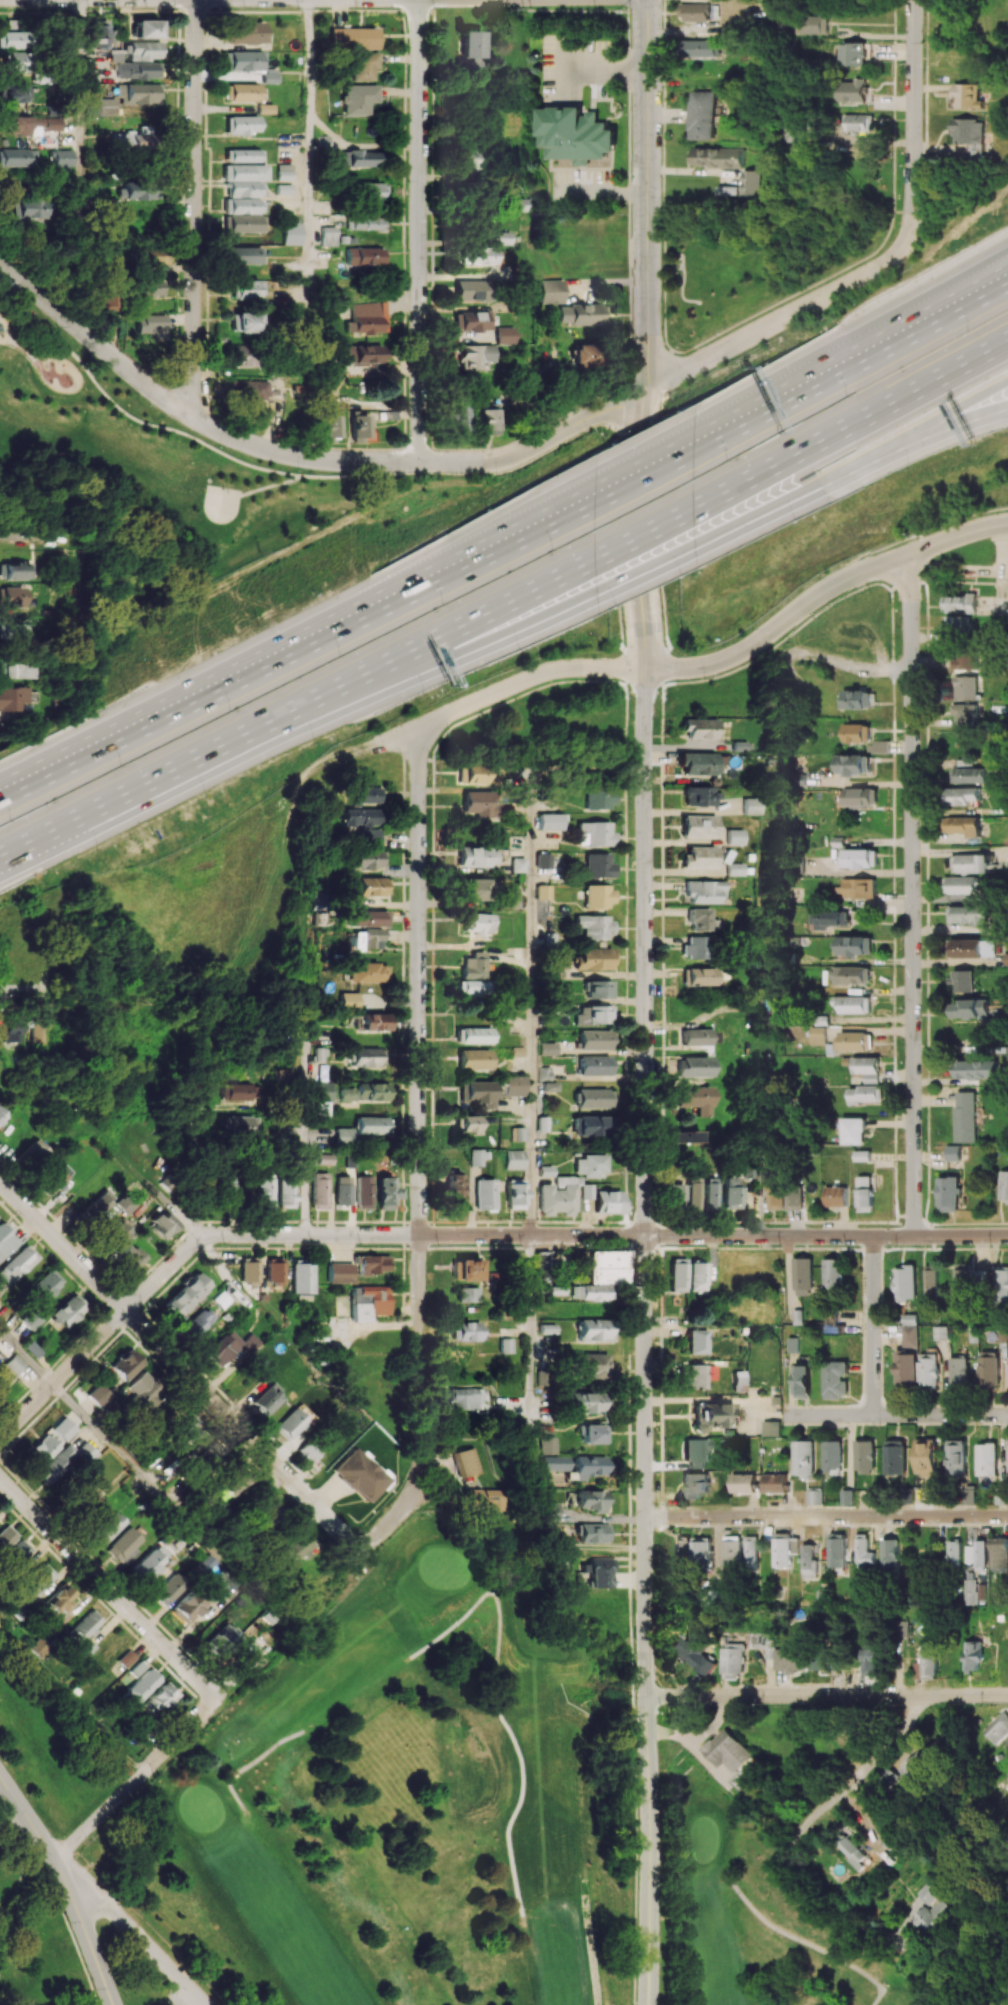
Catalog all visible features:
building: (694, 11)
building: (812, 24)
building: (147, 28)
building: (245, 32)
building: (98, 34)
building: (354, 38)
building: (10, 39)
building: (700, 48)
building: (142, 51)
building: (471, 51)
building: (854, 53)
road: (308, 58)
building: (242, 60)
building: (14, 61)
building: (364, 66)
building: (136, 71)
building: (108, 76)
building: (853, 90)
building: (14, 92)
building: (244, 92)
building: (138, 94)
building: (966, 96)
building: (360, 98)
road: (893, 103)
building: (106, 106)
street lamp: (624, 107)
building: (264, 108)
building: (701, 115)
road: (80, 117)
building: (857, 122)
road: (913, 123)
building: (28, 124)
building: (241, 125)
building: (968, 130)
building: (574, 134)
building: (132, 139)
road: (360, 146)
building: (244, 155)
building: (18, 157)
building: (716, 157)
building: (365, 158)
building: (464, 159)
building: (60, 160)
street lamp: (900, 162)
building: (284, 171)
building: (244, 172)
building: (748, 182)
building: (243, 189)
building: (140, 191)
building: (368, 191)
road: (646, 193)
building: (514, 205)
building: (242, 206)
road: (195, 208)
building: (29, 209)
street lamp: (625, 213)
road: (308, 216)
building: (243, 223)
building: (362, 223)
road: (420, 230)
building: (327, 236)
building: (501, 238)
street lamp: (967, 242)
road: (663, 245)
building: (244, 255)
building: (149, 256)
building: (363, 256)
building: (475, 256)
road: (836, 272)
park: (739, 273)
street lamp: (811, 279)
building: (151, 287)
building: (248, 289)
building: (470, 290)
building: (552, 291)
street lamp: (868, 297)
road: (18, 298)
building: (108, 301)
street lamp: (32, 304)
building: (581, 314)
building: (368, 317)
road: (778, 320)
building: (470, 321)
building: (244, 322)
road: (40, 325)
building: (152, 325)
street lamp: (723, 325)
street lamp: (966, 331)
building: (502, 334)
road: (853, 348)
road: (22, 349)
building: (364, 354)
building: (242, 355)
building: (583, 355)
building: (472, 356)
street lamp: (97, 359)
street lamp: (765, 360)
road: (852, 363)
street lamp: (624, 365)
building: (249, 389)
street lamp: (847, 395)
street lamp: (150, 405)
street lamp: (677, 411)
building: (458, 418)
building: (488, 421)
road: (851, 422)
road: (161, 427)
building: (331, 427)
building: (359, 427)
road: (914, 430)
street lamp: (591, 433)
street lamp: (623, 436)
road: (912, 441)
street lamp: (613, 444)
street lamp: (221, 446)
road: (300, 455)
street lamp: (727, 460)
street lamp: (909, 468)
street lamp: (297, 469)
road: (644, 470)
road: (467, 474)
street lamp: (499, 475)
park: (134, 482)
road: (271, 486)
park: (221, 503)
street lamp: (487, 509)
road: (764, 510)
street lamp: (792, 521)
road: (647, 528)
road: (644, 531)
street lamp: (915, 537)
road: (489, 549)
street lamp: (553, 550)
road: (651, 565)
street lamp: (366, 570)
building: (14, 571)
road: (76, 571)
street lamp: (677, 576)
street lamp: (819, 576)
road: (825, 592)
building: (11, 596)
street lamp: (887, 601)
building: (958, 603)
street lamp: (442, 605)
street lamp: (611, 607)
street lamp: (258, 627)
building: (956, 627)
street lamp: (752, 628)
building: (12, 630)
street lamp: (516, 650)
street lamp: (587, 655)
street lamp: (340, 656)
building: (965, 658)
building: (15, 668)
road: (851, 668)
street lamp: (705, 677)
road: (231, 683)
road: (324, 685)
building: (965, 687)
street lamp: (477, 688)
street lamp: (124, 692)
road: (497, 692)
street lamp: (424, 695)
building: (12, 697)
building: (855, 699)
street lamp: (230, 711)
road: (328, 714)
building: (965, 714)
building: (699, 728)
building: (856, 732)
street lamp: (374, 733)
street lamp: (313, 742)
street lamp: (19, 746)
street lamp: (429, 755)
building: (701, 763)
building: (853, 764)
street lamp: (120, 766)
building: (472, 773)
building: (970, 773)
road: (39, 778)
street lamp: (634, 779)
road: (39, 783)
building: (366, 795)
building: (963, 795)
street lamp: (204, 796)
building: (700, 796)
building: (860, 796)
building: (599, 797)
building: (478, 803)
building: (750, 806)
building: (361, 817)
street lamp: (10, 821)
building: (551, 821)
building: (962, 825)
building: (699, 826)
building: (595, 834)
road: (28, 836)
building: (734, 836)
building: (370, 838)
street lamp: (97, 850)
building: (476, 856)
building: (699, 857)
building: (858, 858)
building: (368, 859)
building: (543, 860)
building: (970, 863)
building: (517, 864)
building: (598, 866)
building: (733, 869)
building: (961, 884)
building: (372, 886)
building: (856, 887)
building: (474, 889)
building: (704, 891)
road: (912, 891)
building: (543, 892)
building: (597, 895)
building: (509, 899)
building: (969, 914)
building: (368, 918)
building: (827, 918)
building: (701, 920)
building: (476, 923)
building: (594, 926)
building: (364, 939)
road: (532, 944)
building: (854, 945)
building: (695, 947)
building: (974, 947)
building: (593, 958)
building: (1007, 958)
building: (472, 966)
building: (368, 972)
building: (851, 974)
building: (702, 976)
building: (964, 980)
building: (472, 987)
building: (598, 989)
road: (5, 990)
building: (349, 1000)
building: (852, 1004)
building: (974, 1008)
building: (594, 1015)
building: (373, 1021)
building: (12, 1029)
building: (471, 1035)
building: (698, 1036)
building: (817, 1036)
building: (595, 1039)
building: (852, 1041)
building: (548, 1048)
building: (320, 1054)
building: (368, 1057)
building: (472, 1059)
building: (594, 1065)
building: (694, 1067)
building: (866, 1067)
building: (978, 1069)
building: (545, 1073)
building: (284, 1074)
building: (513, 1085)
building: (549, 1086)
building: (242, 1091)
building: (371, 1091)
building: (347, 1093)
building: (476, 1093)
building: (864, 1094)
building: (323, 1098)
building: (594, 1098)
building: (696, 1099)
road: (419, 1106)
building: (1, 1116)
building: (966, 1116)
building: (468, 1124)
building: (372, 1125)
building: (591, 1126)
building: (244, 1127)
building: (853, 1130)
building: (517, 1133)
building: (344, 1135)
building: (685, 1136)
road: (306, 1148)
building: (953, 1152)
building: (32, 1155)
building: (863, 1155)
building: (475, 1157)
road: (199, 1158)
building: (325, 1159)
building: (514, 1159)
building: (590, 1165)
building: (748, 1169)
building: (56, 1180)
building: (1004, 1184)
building: (452, 1187)
building: (320, 1190)
building: (343, 1190)
building: (587, 1191)
building: (866, 1191)
building: (226, 1192)
building: (363, 1192)
building: (385, 1192)
building: (732, 1192)
building: (265, 1193)
building: (287, 1193)
building: (949, 1193)
road: (158, 1194)
building: (484, 1194)
building: (710, 1194)
building: (777, 1194)
building: (514, 1195)
building: (693, 1195)
building: (838, 1195)
building: (558, 1196)
building: (676, 1196)
building: (795, 1199)
building: (126, 1202)
building: (609, 1202)
building: (101, 1207)
building: (163, 1224)
building: (115, 1232)
road: (462, 1234)
building: (6, 1240)
building: (130, 1257)
building: (373, 1263)
building: (17, 1264)
building: (542, 1266)
building: (250, 1269)
building: (465, 1269)
building: (275, 1270)
building: (340, 1272)
building: (833, 1273)
building: (599, 1275)
building: (677, 1275)
building: (802, 1276)
building: (696, 1277)
building: (966, 1281)
building: (301, 1282)
building: (905, 1282)
building: (931, 1283)
building: (45, 1285)
building: (1002, 1286)
building: (556, 1290)
building: (186, 1294)
building: (467, 1294)
building: (368, 1302)
building: (68, 1310)
building: (30, 1319)
building: (199, 1322)
road: (872, 1325)
building: (594, 1330)
building: (910, 1330)
building: (466, 1331)
building: (940, 1333)
building: (1003, 1335)
road: (646, 1336)
building: (697, 1341)
building: (250, 1342)
building: (505, 1345)
building: (222, 1348)
road: (27, 1355)
road: (178, 1362)
building: (14, 1363)
building: (126, 1364)
building: (587, 1366)
building: (906, 1369)
building: (958, 1370)
building: (988, 1370)
building: (928, 1372)
building: (696, 1376)
building: (738, 1377)
building: (836, 1379)
building: (802, 1381)
road: (531, 1383)
building: (143, 1393)
building: (98, 1395)
building: (468, 1398)
building: (267, 1399)
building: (583, 1403)
road: (896, 1414)
building: (713, 1416)
building: (290, 1424)
building: (771, 1427)
building: (63, 1428)
building: (592, 1434)
building: (1007, 1439)
building: (547, 1445)
building: (42, 1450)
building: (308, 1451)
building: (86, 1452)
building: (697, 1453)
building: (865, 1455)
building: (833, 1456)
building: (895, 1456)
building: (926, 1456)
building: (213, 1457)
building: (804, 1458)
building: (956, 1458)
building: (986, 1459)
building: (471, 1461)
building: (553, 1463)
building: (55, 1465)
building: (586, 1467)
building: (361, 1475)
building: (776, 1482)
building: (744, 1483)
building: (233, 1484)
building: (695, 1484)
building: (969, 1494)
building: (1000, 1495)
building: (86, 1496)
building: (816, 1496)
building: (848, 1496)
road: (164, 1497)
building: (487, 1499)
building: (589, 1500)
building: (267, 1511)
building: (550, 1511)
road: (827, 1515)
road: (394, 1522)
building: (108, 1527)
building: (593, 1533)
building: (6, 1536)
building: (560, 1542)
building: (125, 1546)
building: (303, 1546)
building: (783, 1549)
building: (19, 1550)
building: (684, 1550)
building: (705, 1550)
building: (734, 1550)
building: (837, 1550)
building: (754, 1551)
building: (865, 1551)
building: (955, 1553)
building: (970, 1554)
building: (982, 1554)
building: (1000, 1554)
building: (891, 1555)
building: (152, 1561)
building: (810, 1562)
building: (207, 1563)
building: (599, 1571)
building: (39, 1580)
road: (106, 1585)
building: (170, 1588)
building: (971, 1591)
building: (60, 1598)
building: (188, 1606)
road: (631, 1619)
building: (900, 1628)
building: (85, 1631)
road: (500, 1637)
building: (227, 1642)
building: (39, 1647)
building: (115, 1652)
building: (973, 1654)
building: (689, 1655)
building: (792, 1657)
building: (870, 1657)
building: (732, 1658)
building: (825, 1659)
building: (926, 1661)
building: (137, 1668)
building: (140, 1687)
road: (827, 1694)
road: (72, 1698)
building: (159, 1699)
building: (997, 1728)
building: (728, 1750)
road: (253, 1762)
road: (861, 1774)
building: (889, 1775)
road: (140, 1776)
road: (31, 1812)
park: (463, 1821)
road: (31, 1824)
road: (868, 1828)
road: (16, 1831)
building: (853, 1850)
park: (66, 1861)
building: (932, 1892)
road: (12, 1904)
road: (844, 1911)
building: (938, 1915)
road: (68, 1925)
road: (132, 1930)
road: (86, 1931)
road: (806, 1944)
parking lot: (198, 1994)

